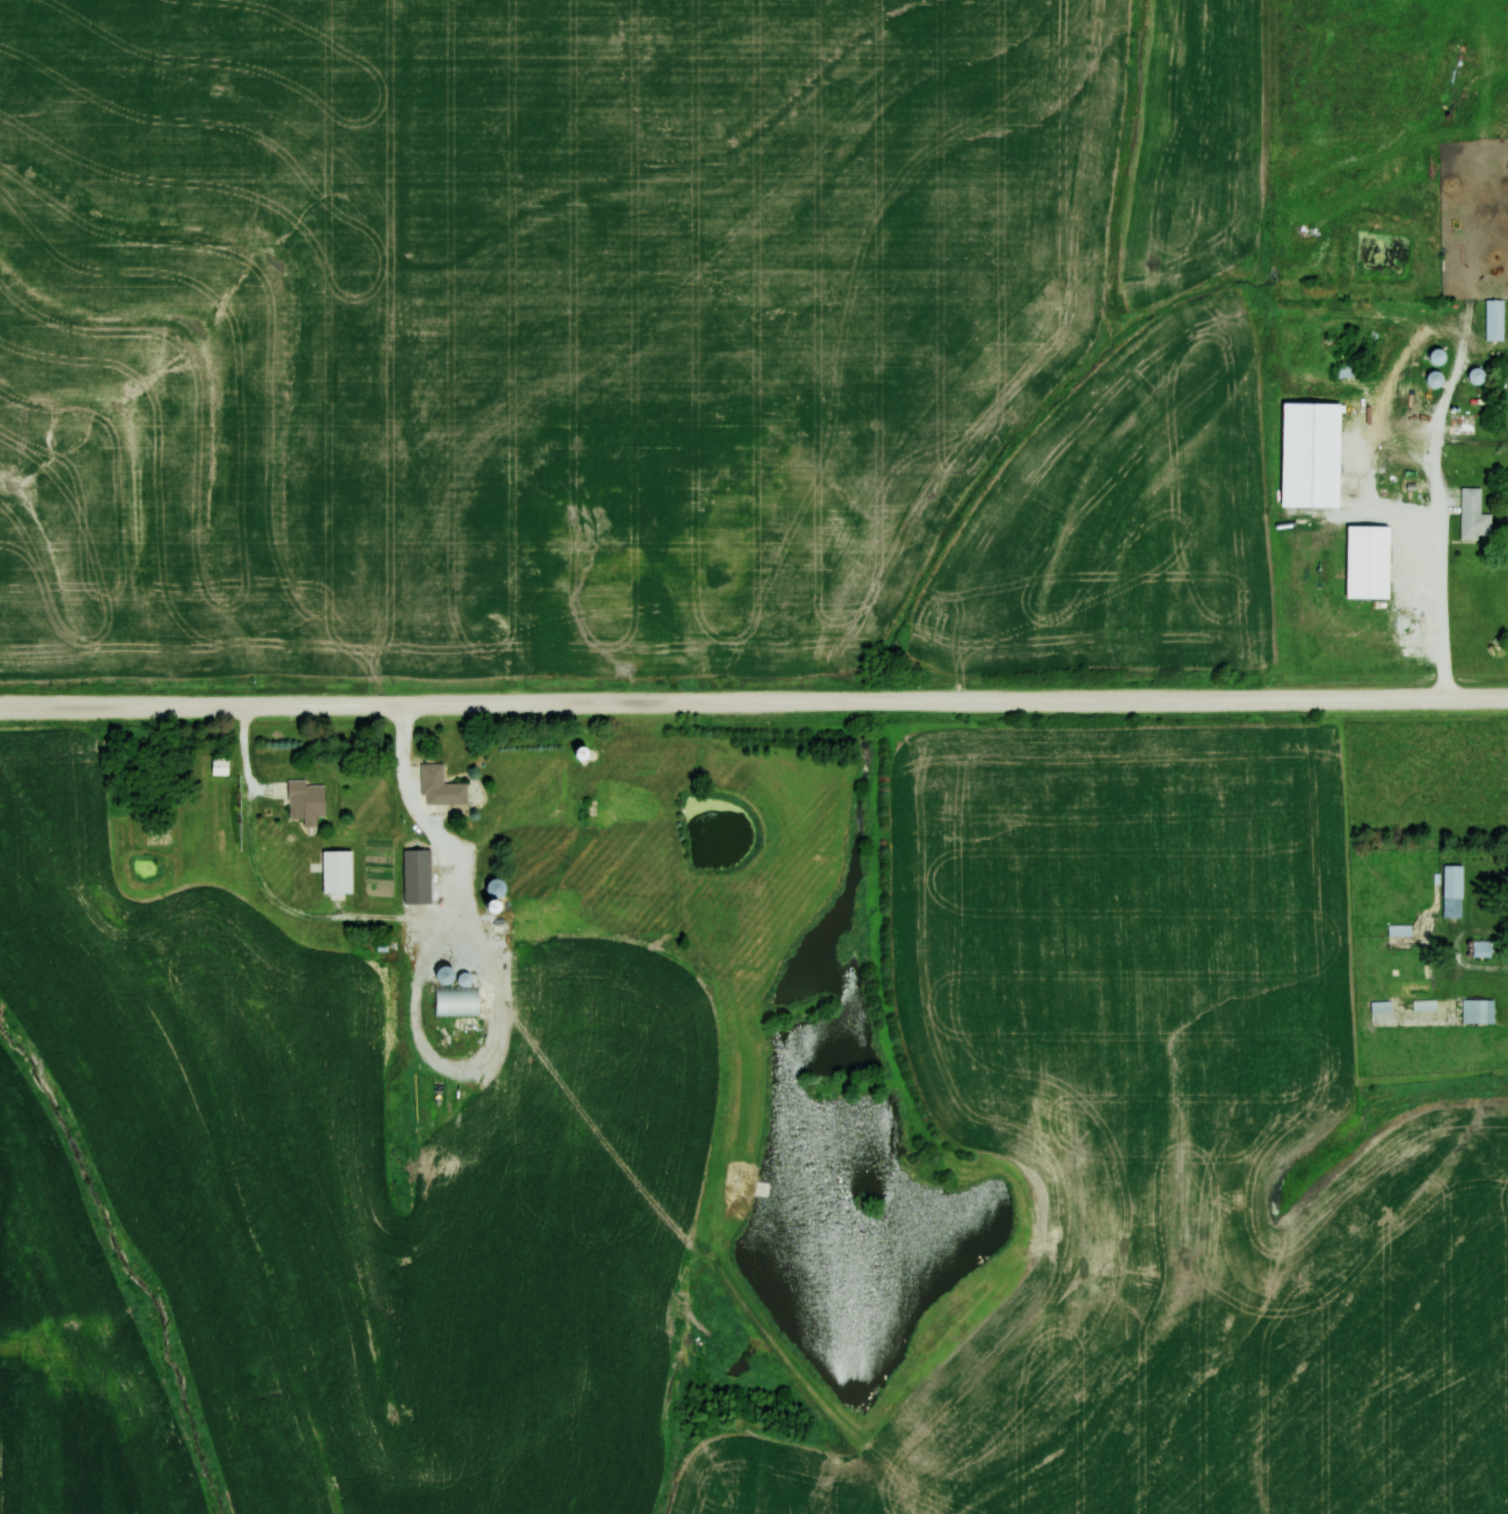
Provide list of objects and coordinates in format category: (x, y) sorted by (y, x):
building: (1494, 319)
building: (1436, 356)
building: (1346, 371)
building: (1476, 376)
building: (1433, 379)
building: (1368, 443)
building: (1309, 462)
building: (651, 492)
building: (1473, 516)
building: (1365, 563)
road: (754, 701)
building: (220, 765)
building: (440, 787)
building: (301, 799)
building: (622, 809)
building: (336, 871)
building: (416, 876)
building: (1452, 891)
building: (506, 915)
building: (1399, 930)
building: (1482, 949)
building: (443, 974)
building: (463, 979)
building: (456, 1001)
building: (1424, 1005)
building: (1381, 1007)
building: (1477, 1011)

